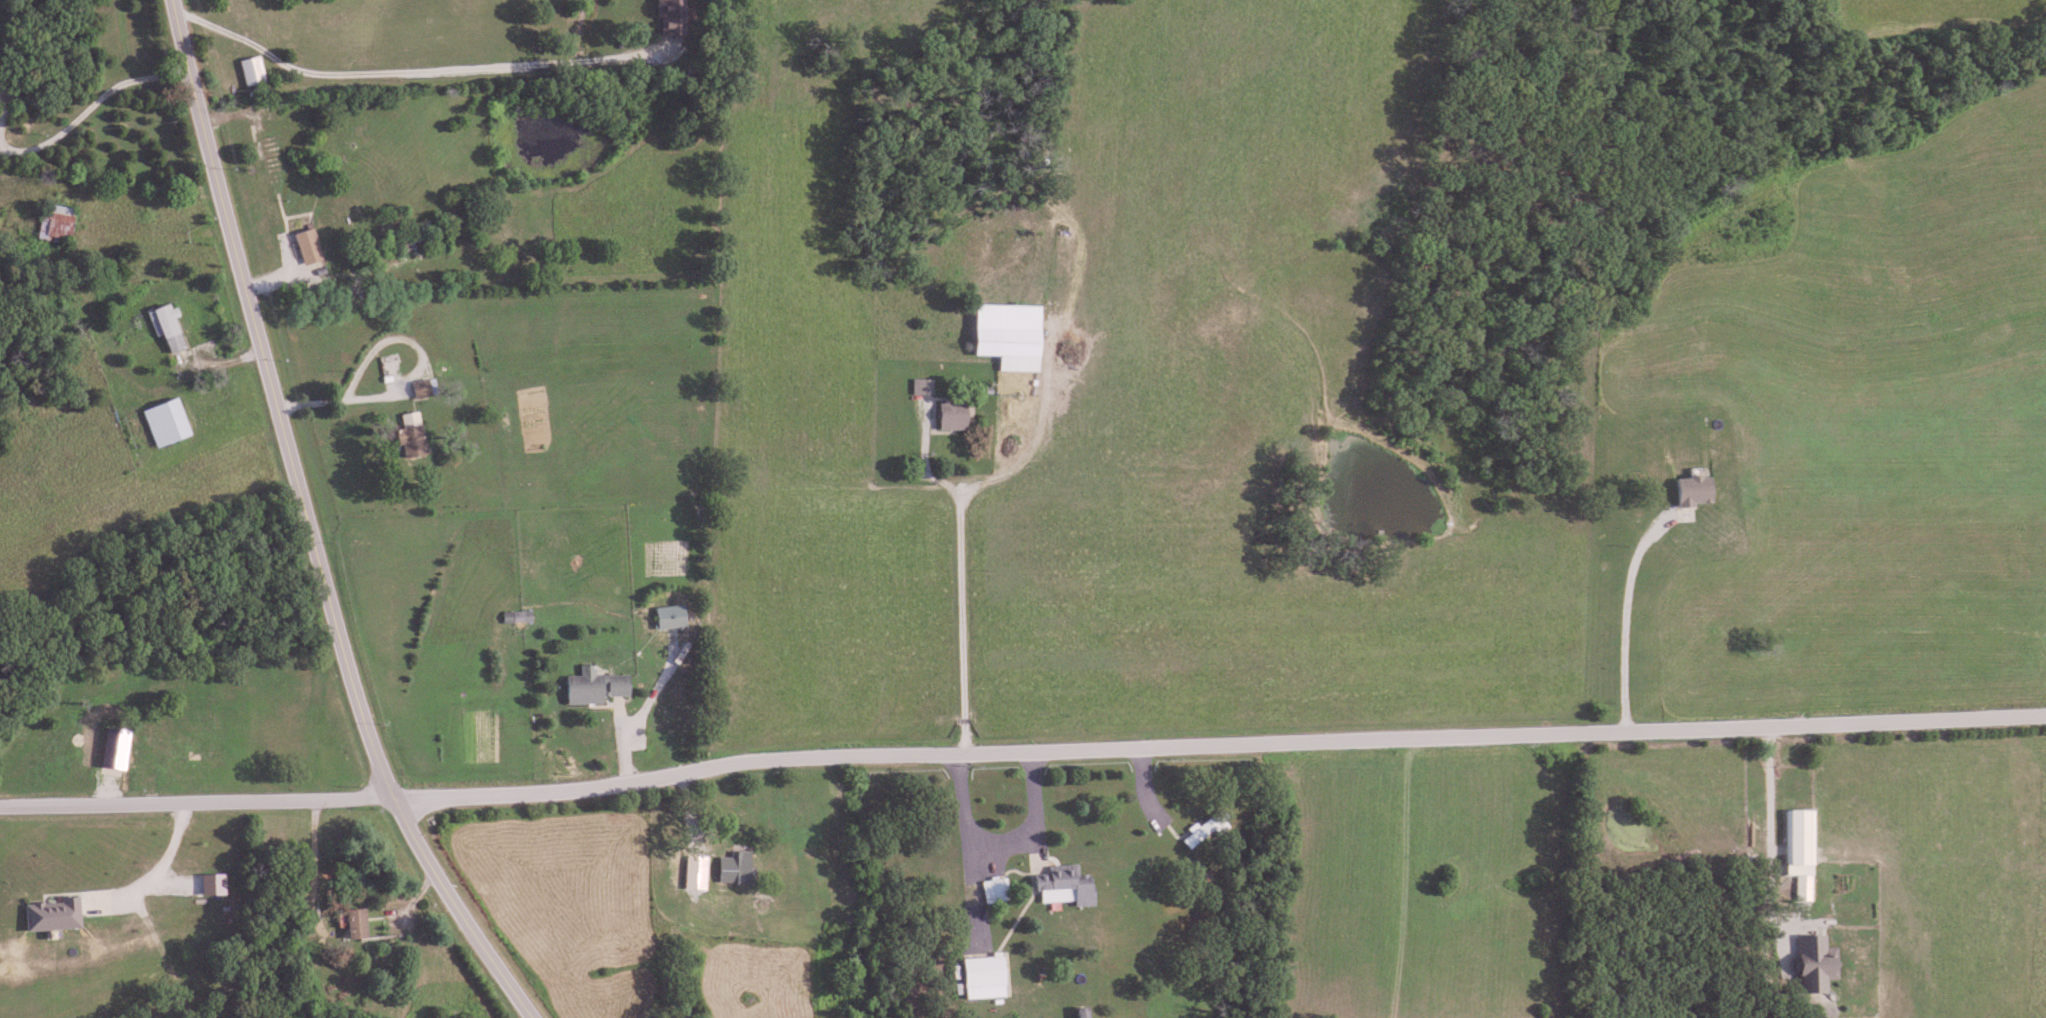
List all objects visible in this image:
building: (665, 17)
building: (247, 71)
road: (410, 73)
road: (87, 113)
building: (267, 154)
building: (51, 223)
building: (302, 247)
building: (162, 327)
building: (1013, 350)
road: (336, 403)
building: (947, 415)
building: (160, 422)
building: (405, 435)
road: (308, 529)
road: (1627, 616)
building: (669, 617)
road: (964, 623)
building: (592, 686)
road: (1216, 745)
building: (107, 747)
building: (177, 768)
road: (194, 795)
road: (1769, 836)
building: (1791, 841)
road: (1002, 846)
building: (731, 868)
building: (1059, 885)
building: (992, 890)
building: (839, 896)
road: (15, 906)
building: (351, 923)
building: (1806, 964)
building: (1076, 1012)

